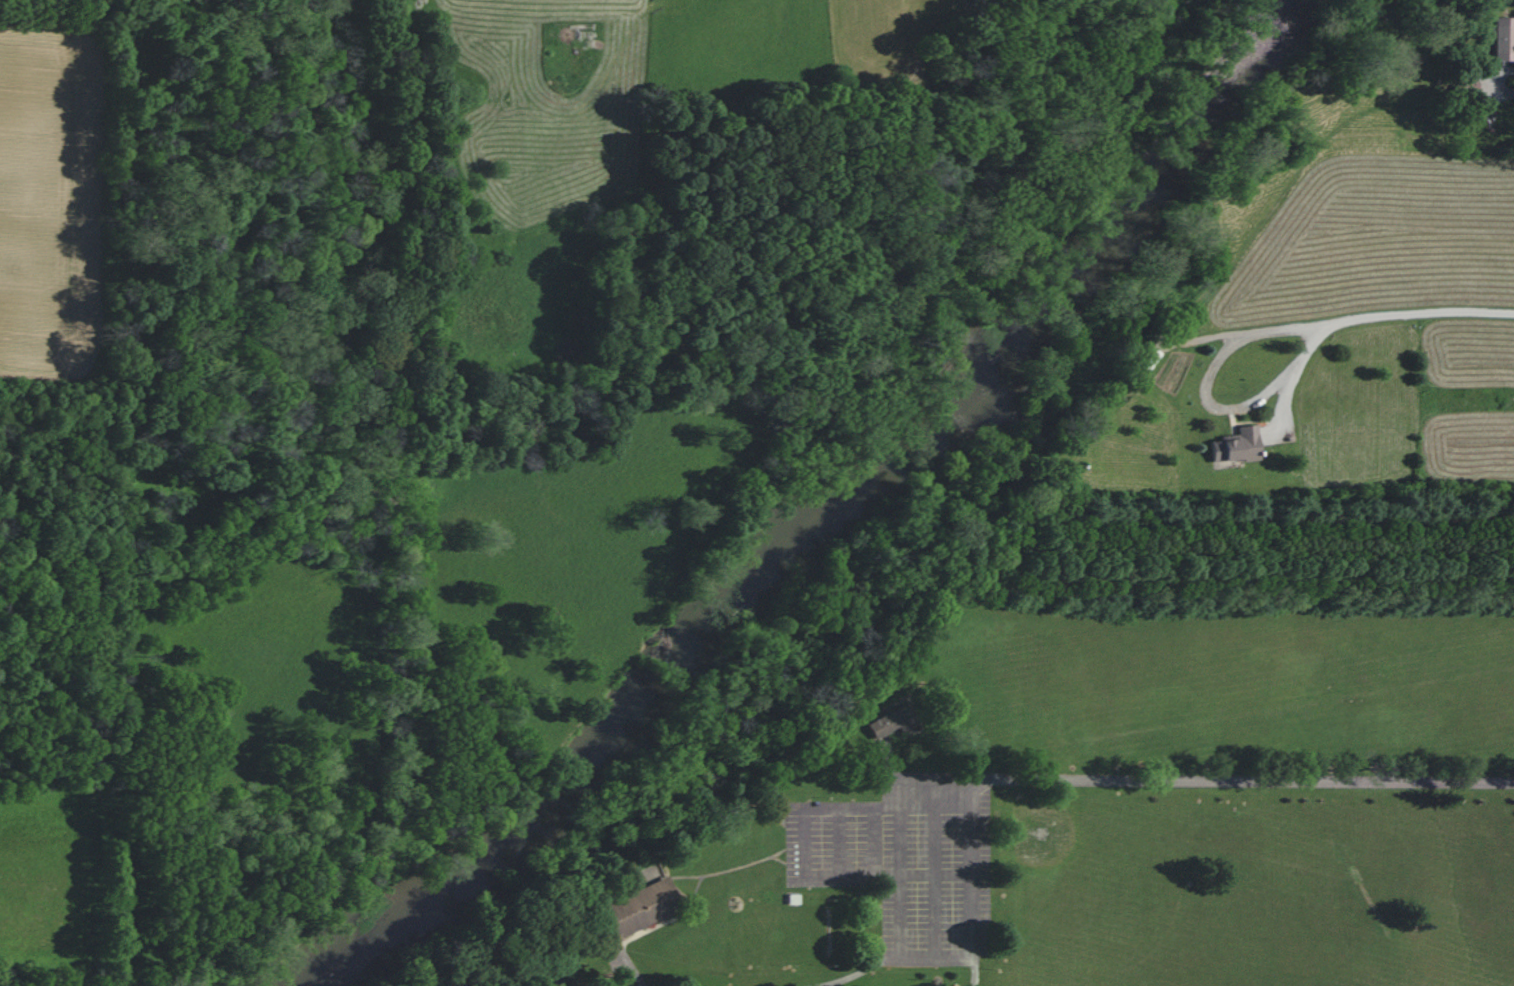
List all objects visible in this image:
building: (1502, 39)
road: (1412, 312)
road: (1204, 398)
building: (1234, 447)
river: (832, 477)
building: (889, 721)
road: (1198, 780)
building: (638, 907)
road: (975, 930)
road: (893, 961)
road: (634, 974)

